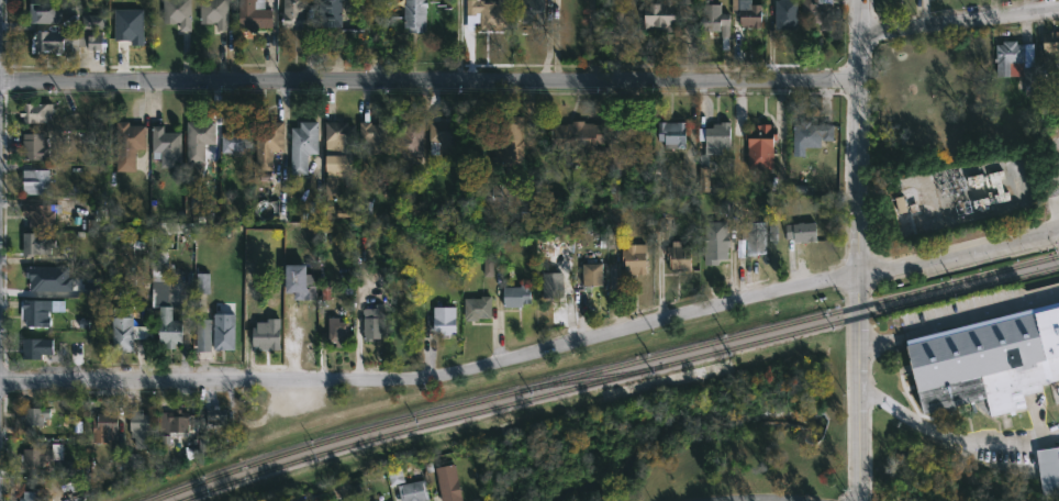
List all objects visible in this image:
building: (45, 11)
building: (818, 11)
building: (177, 12)
building: (214, 12)
building: (489, 12)
building: (533, 12)
building: (294, 13)
building: (331, 13)
building: (667, 13)
building: (255, 14)
building: (415, 14)
building: (787, 14)
building: (751, 15)
road: (862, 15)
road: (960, 18)
building: (716, 20)
building: (129, 25)
building: (68, 38)
building: (1052, 44)
building: (1017, 62)
road: (430, 78)
building: (35, 111)
building: (578, 133)
building: (673, 133)
building: (812, 134)
building: (375, 136)
building: (715, 136)
building: (199, 137)
building: (443, 137)
building: (236, 138)
building: (341, 142)
building: (410, 142)
building: (268, 143)
building: (127, 144)
building: (303, 145)
building: (511, 145)
building: (761, 145)
building: (34, 146)
building: (166, 146)
road: (859, 153)
building: (612, 156)
building: (337, 171)
building: (703, 179)
building: (35, 181)
building: (997, 187)
building: (495, 191)
building: (899, 204)
building: (38, 214)
building: (515, 218)
building: (166, 227)
building: (802, 231)
building: (753, 238)
building: (716, 242)
building: (36, 243)
building: (679, 257)
building: (635, 258)
road: (959, 258)
building: (488, 267)
building: (593, 274)
building: (47, 278)
building: (301, 280)
building: (201, 283)
building: (554, 285)
building: (517, 296)
building: (166, 302)
road: (980, 307)
building: (478, 308)
building: (38, 311)
building: (445, 321)
building: (372, 324)
building: (122, 329)
building: (224, 331)
road: (880, 331)
building: (338, 333)
building: (202, 334)
building: (267, 334)
building: (35, 347)
building: (986, 360)
railway: (602, 369)
road: (435, 377)
railway: (617, 377)
railway: (588, 379)
road: (858, 388)
road: (879, 399)
building: (34, 415)
building: (215, 416)
building: (174, 421)
building: (104, 426)
building: (141, 428)
road: (976, 449)
building: (116, 453)
building: (34, 457)
building: (132, 460)
building: (65, 468)
building: (1047, 469)
park: (728, 471)
building: (448, 482)
building: (341, 490)
building: (413, 491)
building: (34, 496)
building: (374, 500)
road: (732, 500)

